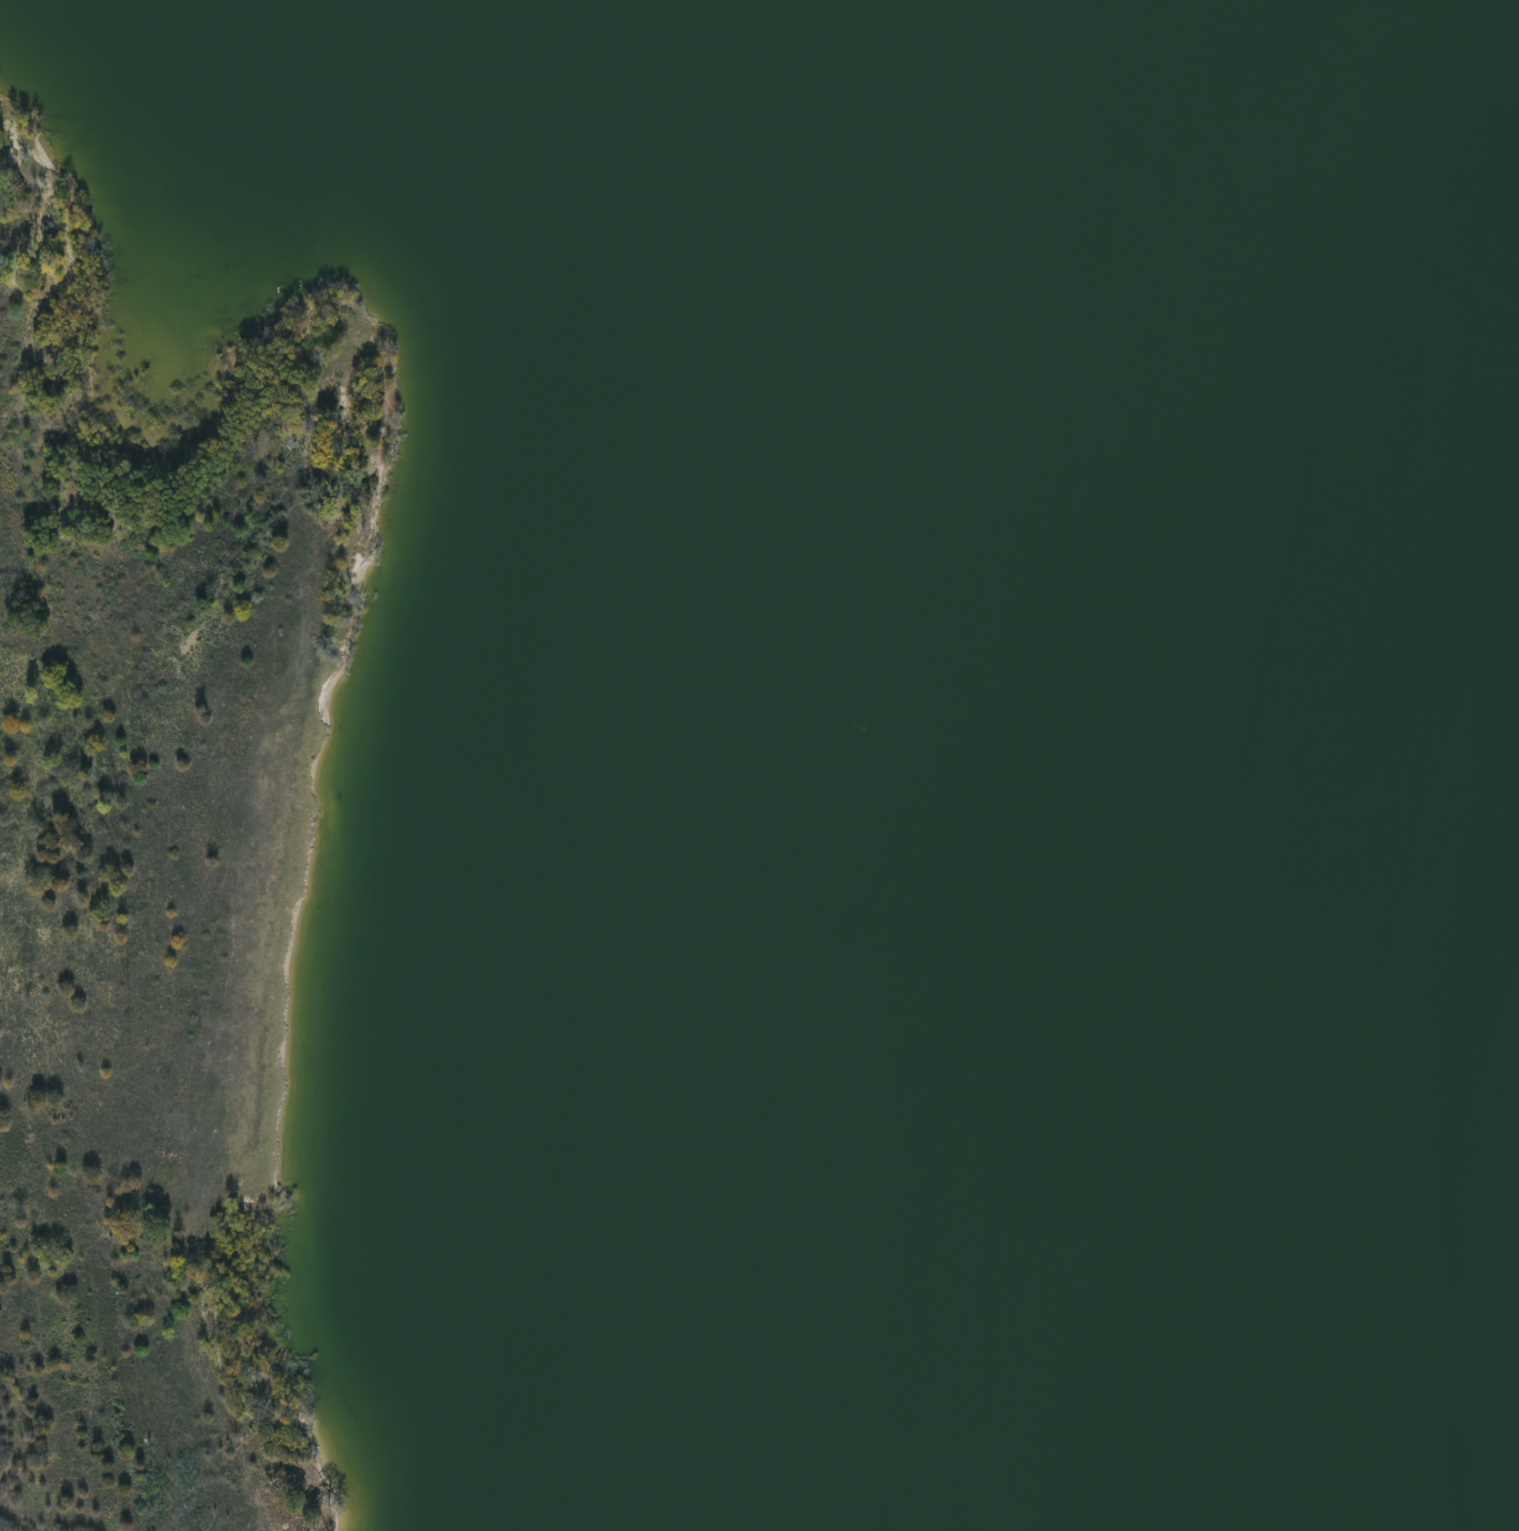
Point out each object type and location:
park: (164, 885)

